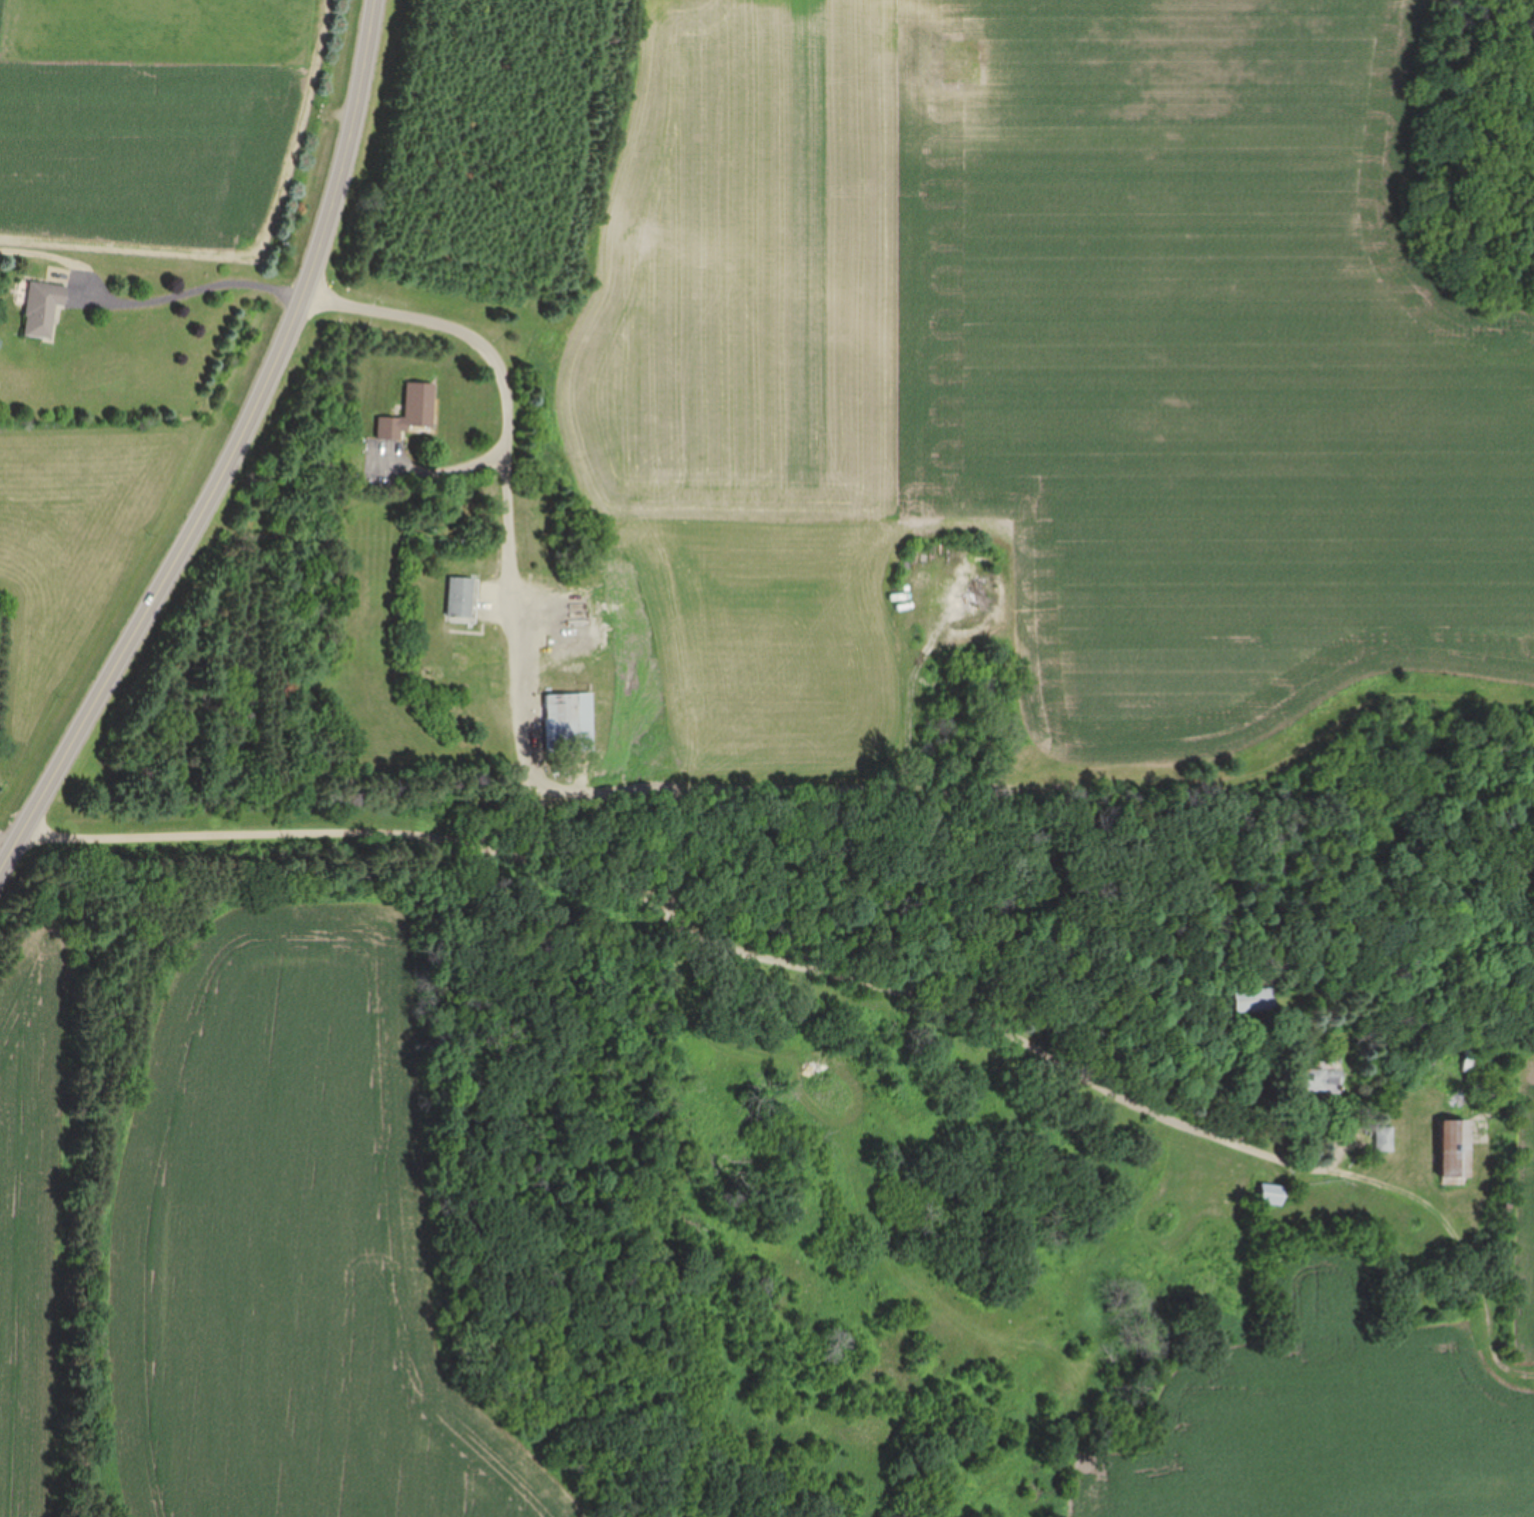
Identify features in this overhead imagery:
building: (42, 308)
road: (375, 311)
building: (411, 412)
road: (237, 455)
building: (463, 598)
building: (571, 722)
road: (526, 749)
road: (689, 927)
building: (1250, 1000)
building: (1464, 1062)
building: (1315, 1078)
building: (1383, 1139)
building: (1449, 1152)
building: (1266, 1195)
park: (564, 1238)

